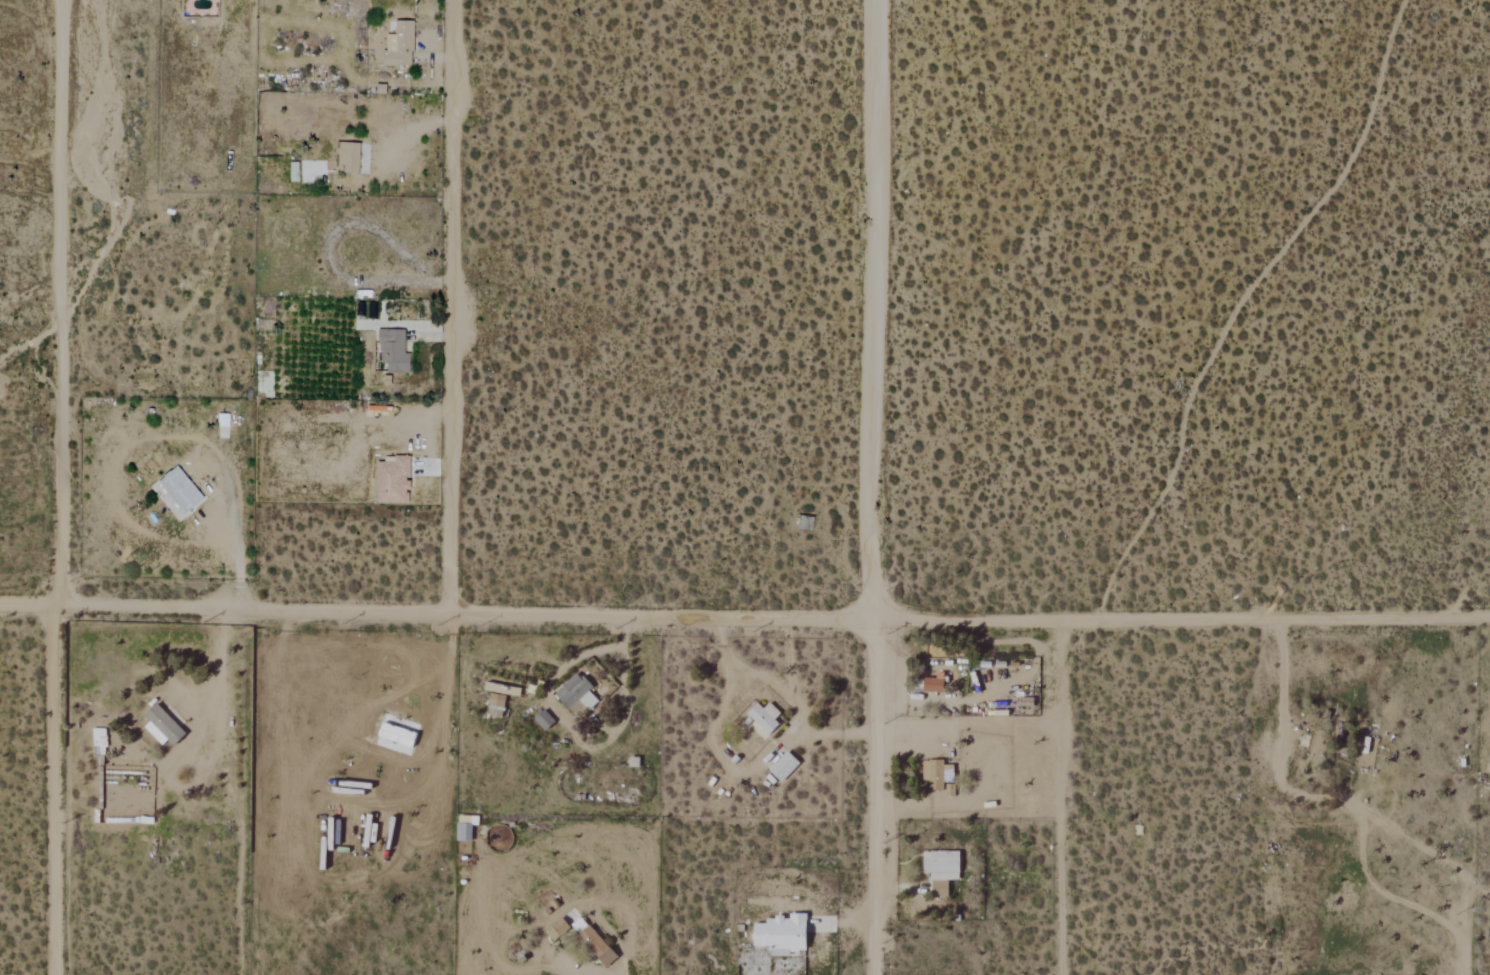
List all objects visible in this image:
building: (402, 44)
road: (400, 143)
building: (349, 157)
building: (296, 172)
road: (62, 299)
road: (1239, 304)
road: (454, 305)
road: (871, 307)
building: (396, 351)
building: (396, 482)
building: (183, 491)
road: (234, 536)
road: (744, 614)
road: (722, 645)
building: (934, 685)
road: (730, 687)
building: (578, 694)
building: (767, 717)
building: (546, 720)
building: (164, 726)
road: (910, 726)
building: (786, 766)
building: (938, 774)
road: (55, 786)
road: (871, 794)
road: (1062, 798)
road: (1348, 809)
building: (943, 869)
road: (1389, 899)
road: (841, 923)
building: (785, 934)
building: (598, 947)

